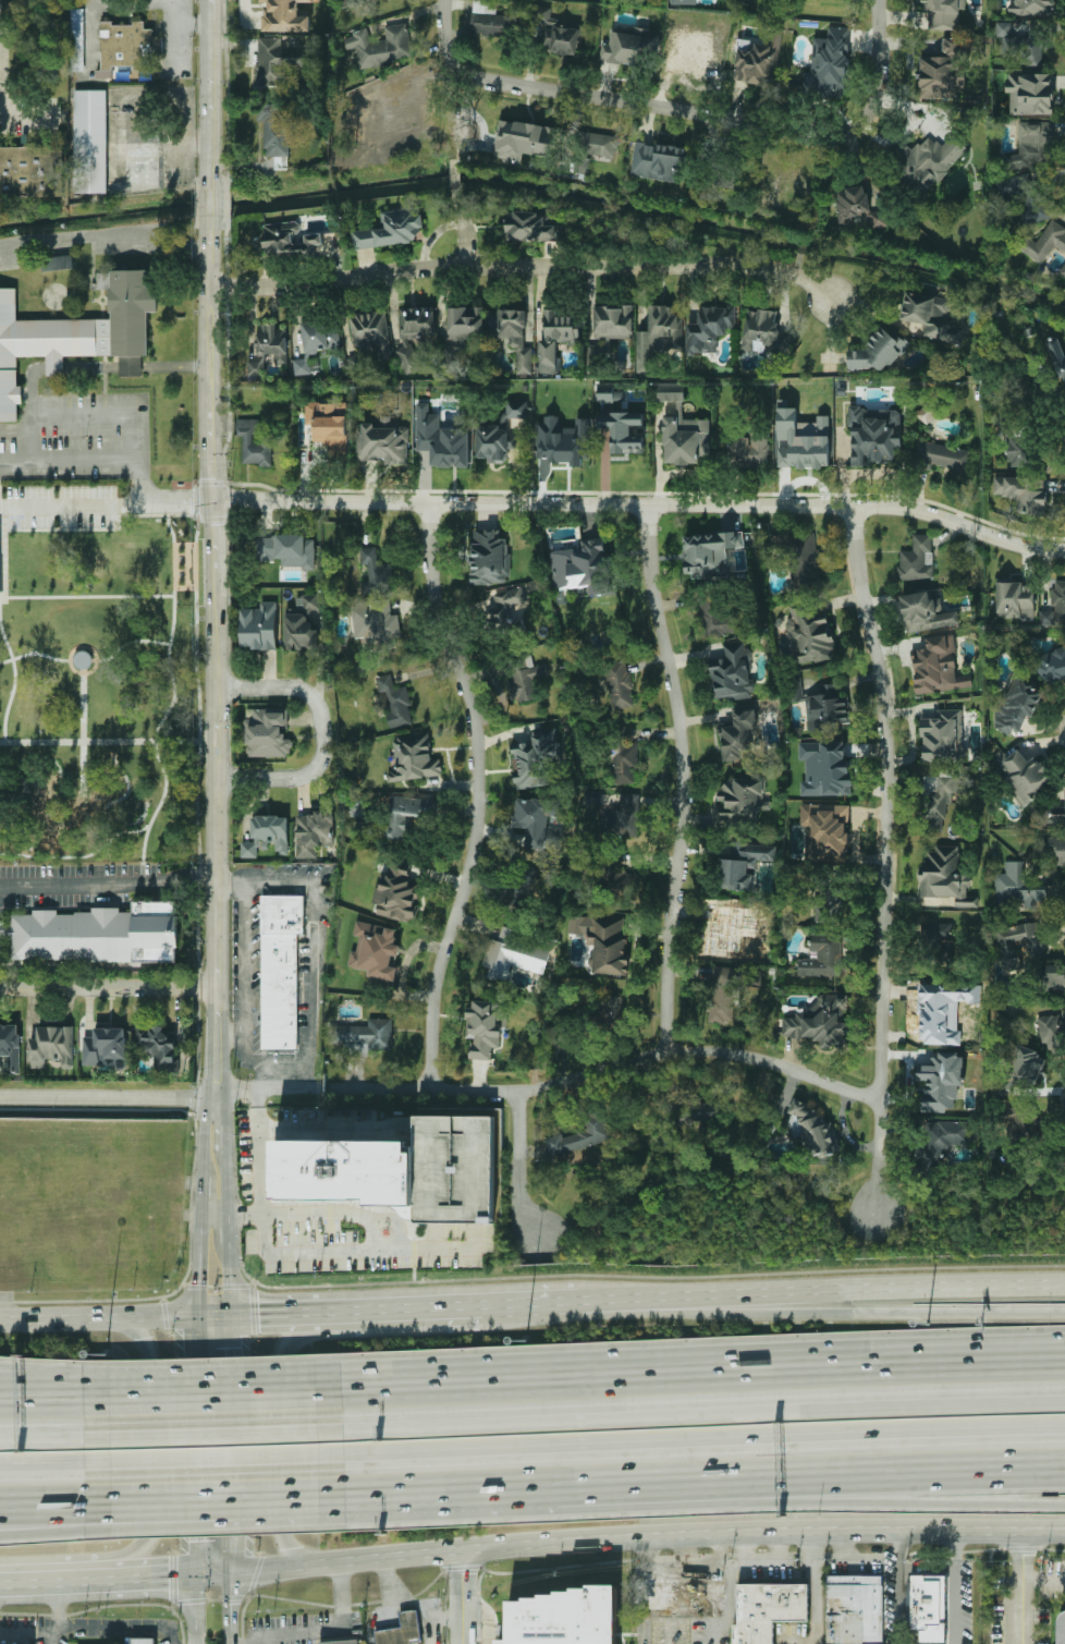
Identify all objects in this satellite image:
road: (162, 1)
building: (353, 1)
building: (683, 2)
building: (1031, 7)
building: (942, 12)
building: (284, 15)
building: (490, 20)
road: (193, 25)
building: (558, 33)
road: (89, 37)
building: (76, 38)
building: (1021, 45)
building: (124, 46)
building: (380, 46)
building: (625, 48)
building: (758, 59)
building: (277, 60)
road: (881, 61)
building: (828, 64)
building: (945, 69)
road: (462, 72)
road: (215, 90)
building: (1030, 93)
road: (20, 110)
road: (666, 111)
building: (276, 132)
road: (182, 136)
building: (522, 139)
building: (89, 141)
building: (598, 144)
building: (1031, 145)
building: (926, 160)
building: (657, 161)
road: (456, 167)
building: (30, 170)
building: (1026, 196)
road: (212, 200)
building: (858, 207)
road: (458, 227)
building: (530, 227)
building: (393, 228)
road: (107, 234)
building: (289, 241)
building: (1044, 242)
building: (58, 263)
road: (528, 268)
building: (1063, 270)
building: (132, 317)
building: (931, 317)
building: (418, 321)
building: (612, 324)
building: (709, 328)
building: (762, 330)
building: (371, 332)
building: (659, 332)
building: (515, 337)
building: (555, 339)
building: (271, 341)
building: (316, 341)
building: (39, 345)
building: (879, 352)
building: (1057, 355)
building: (407, 357)
road: (176, 366)
road: (56, 367)
road: (93, 367)
road: (132, 367)
building: (255, 368)
road: (32, 387)
building: (610, 397)
building: (926, 413)
road: (130, 417)
building: (328, 424)
building: (622, 430)
building: (683, 430)
building: (498, 431)
building: (873, 435)
building: (441, 439)
parking lot: (77, 440)
building: (562, 440)
building: (801, 440)
building: (382, 441)
building: (253, 442)
building: (1014, 443)
building: (748, 449)
building: (939, 455)
road: (14, 458)
building: (1021, 494)
parking lot: (59, 504)
road: (641, 504)
road: (157, 506)
road: (76, 507)
building: (286, 549)
building: (709, 552)
building: (488, 556)
building: (917, 559)
road: (3, 560)
building: (0, 562)
building: (805, 563)
building: (582, 567)
building: (377, 572)
building: (1014, 598)
road: (87, 602)
building: (502, 605)
building: (1054, 606)
building: (926, 611)
building: (717, 619)
building: (301, 623)
building: (376, 624)
building: (259, 626)
building: (809, 635)
road: (130, 647)
road: (93, 658)
road: (33, 659)
road: (212, 659)
building: (1051, 663)
building: (939, 666)
building: (733, 671)
building: (619, 684)
road: (12, 692)
park: (102, 696)
building: (394, 702)
building: (1017, 705)
road: (170, 708)
building: (827, 708)
road: (81, 715)
building: (267, 733)
road: (321, 733)
building: (739, 734)
building: (943, 736)
road: (98, 747)
building: (622, 755)
building: (413, 758)
building: (536, 758)
building: (824, 768)
building: (1024, 774)
road: (686, 775)
road: (480, 795)
building: (592, 796)
building: (739, 799)
building: (937, 800)
building: (356, 806)
building: (406, 814)
building: (1057, 815)
building: (624, 816)
building: (539, 821)
building: (271, 830)
building: (825, 831)
building: (313, 832)
building: (248, 849)
building: (1056, 850)
road: (886, 857)
building: (744, 863)
building: (945, 876)
building: (616, 878)
road: (123, 884)
parking lot: (72, 886)
building: (1017, 887)
building: (396, 890)
building: (523, 890)
road: (315, 902)
building: (732, 929)
building: (938, 931)
building: (101, 934)
building: (604, 940)
building: (1006, 946)
building: (375, 950)
building: (514, 953)
building: (822, 957)
building: (281, 970)
building: (1053, 977)
road: (107, 988)
building: (612, 1008)
building: (820, 1021)
building: (485, 1026)
road: (229, 1036)
building: (365, 1036)
building: (10, 1045)
building: (51, 1046)
building: (105, 1046)
building: (158, 1048)
road: (609, 1060)
building: (1017, 1071)
road: (283, 1077)
building: (941, 1082)
road: (259, 1088)
road: (106, 1097)
building: (689, 1112)
road: (332, 1128)
building: (582, 1133)
building: (941, 1140)
road: (523, 1165)
building: (399, 1170)
road: (271, 1214)
road: (213, 1217)
road: (329, 1253)
traffic signals: (197, 1280)
road: (823, 1298)
road: (531, 1305)
road: (822, 1308)
road: (402, 1311)
road: (276, 1315)
traffic signals: (258, 1316)
road: (50, 1317)
road: (164, 1317)
traffic signals: (230, 1347)
road: (230, 1368)
road: (194, 1369)
road: (56, 1373)
road: (212, 1379)
road: (789, 1384)
road: (414, 1388)
road: (414, 1397)
road: (213, 1403)
road: (56, 1406)
road: (690, 1426)
road: (215, 1438)
road: (57, 1440)
road: (278, 1444)
road: (691, 1445)
road: (216, 1460)
road: (57, 1463)
road: (145, 1463)
road: (880, 1481)
road: (625, 1486)
road: (437, 1490)
road: (880, 1490)
road: (438, 1496)
road: (217, 1497)
road: (57, 1500)
road: (218, 1511)
road: (57, 1521)
road: (628, 1538)
traffic signals: (194, 1539)
road: (743, 1547)
road: (776, 1547)
road: (718, 1548)
road: (683, 1549)
road: (715, 1563)
road: (759, 1564)
traffic signals: (169, 1575)
road: (126, 1576)
road: (1043, 1579)
road: (30, 1581)
road: (1021, 1585)
road: (816, 1586)
road: (899, 1586)
road: (955, 1586)
building: (678, 1593)
road: (458, 1597)
building: (925, 1602)
traffic signals: (232, 1606)
road: (407, 1606)
building: (768, 1610)
building: (853, 1610)
road: (60, 1615)
road: (443, 1615)
road: (482, 1617)
building: (566, 1618)
road: (122, 1629)
road: (318, 1630)
building: (401, 1630)
building: (1063, 1631)
road: (641, 1632)
road: (668, 1633)
road: (707, 1633)
road: (913, 1636)
road: (13, 1637)
building: (126, 1641)
building: (142, 1641)
road: (248, 1641)
building: (342, 1642)
road: (799, 1643)

